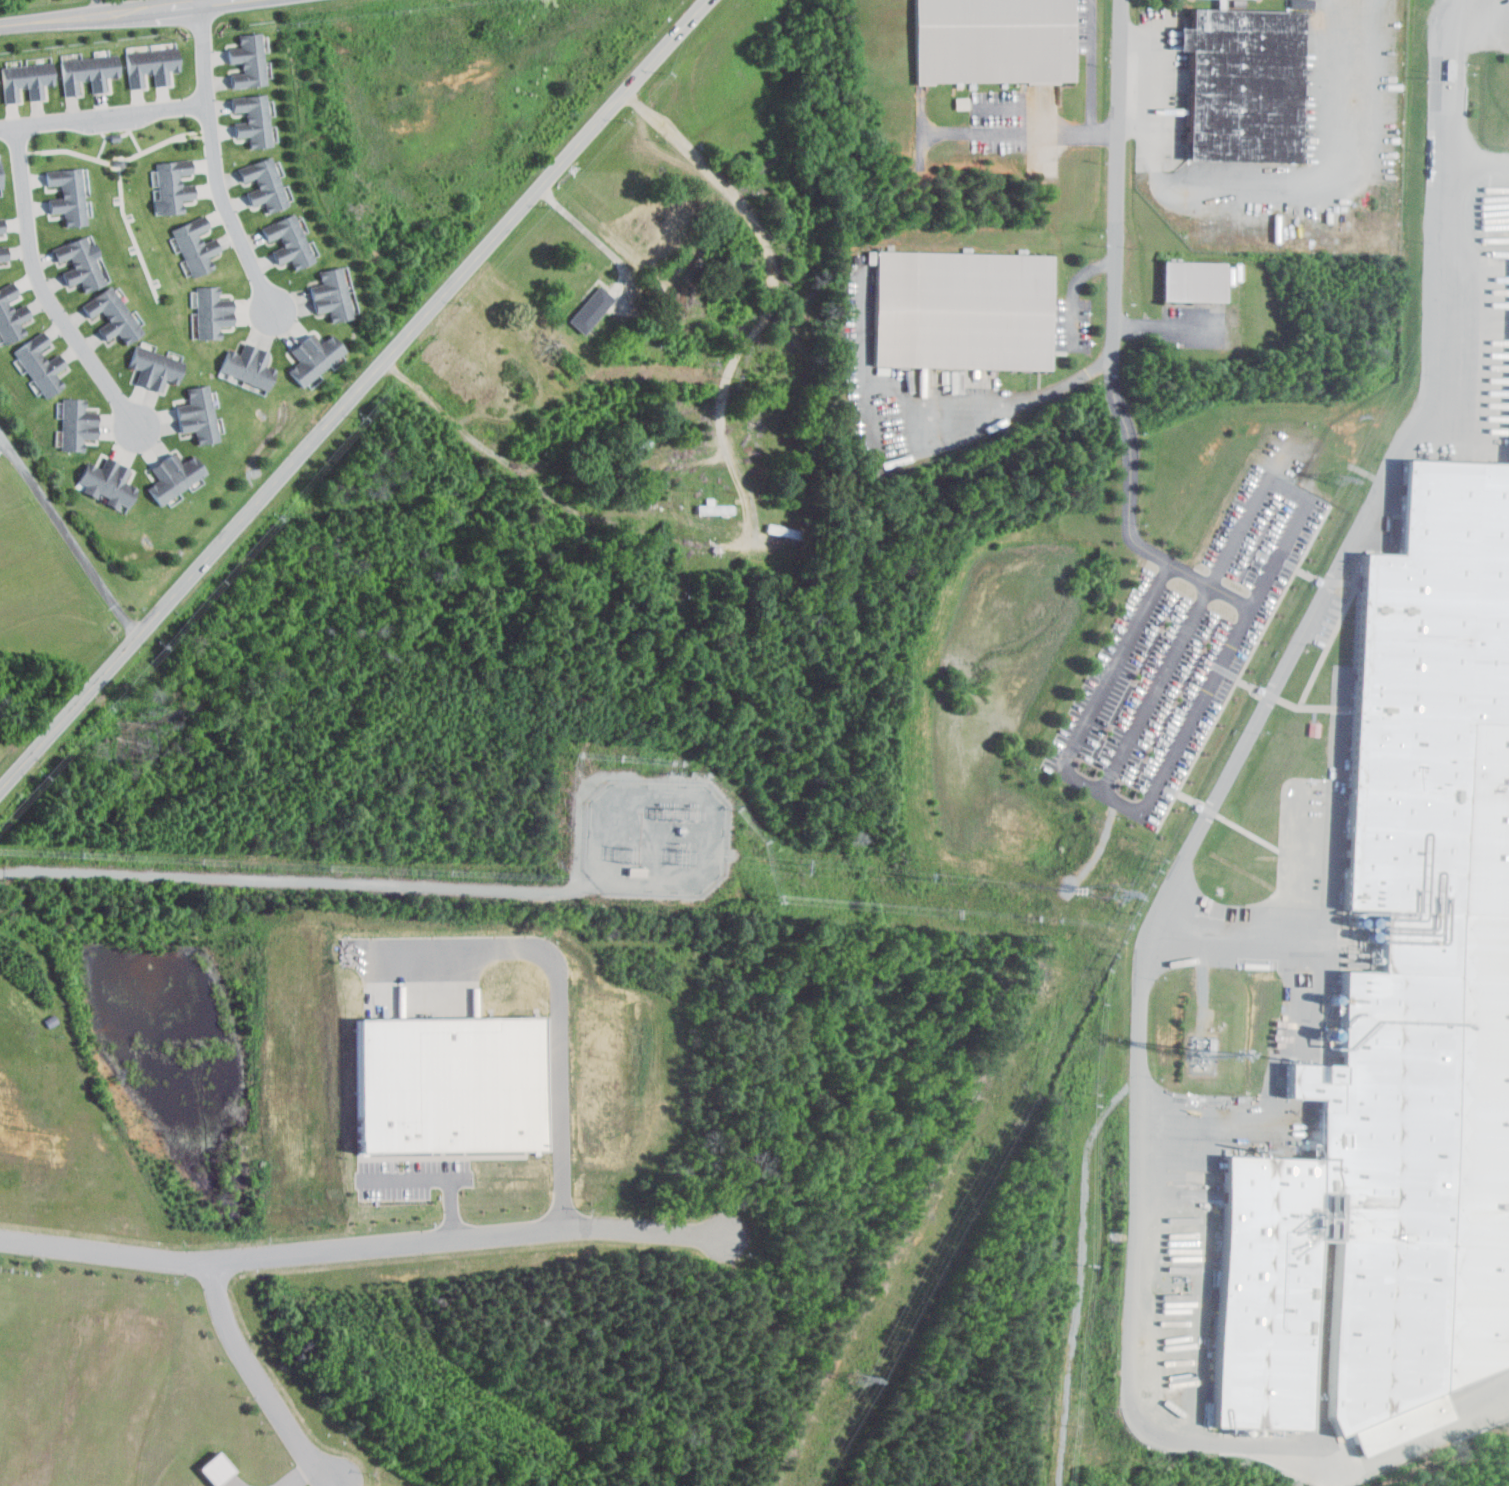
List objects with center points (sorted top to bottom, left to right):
road: (204, 2)
road: (118, 14)
building: (992, 40)
building: (251, 59)
building: (152, 66)
road: (1092, 71)
building: (90, 72)
road: (1454, 78)
building: (27, 79)
road: (1159, 82)
building: (1244, 83)
building: (961, 102)
road: (103, 116)
building: (256, 120)
road: (1022, 131)
road: (132, 133)
road: (106, 136)
road: (1477, 158)
road: (117, 161)
road: (216, 166)
building: (0, 178)
building: (267, 182)
building: (175, 185)
building: (69, 194)
building: (2, 224)
road: (131, 231)
road: (591, 232)
building: (291, 242)
building: (197, 246)
building: (4, 254)
building: (80, 264)
building: (1195, 281)
road: (44, 289)
road: (1075, 290)
building: (334, 294)
building: (962, 310)
building: (590, 311)
building: (216, 312)
building: (12, 315)
building: (112, 315)
road: (1163, 324)
road: (1114, 341)
building: (317, 357)
building: (41, 365)
building: (252, 366)
building: (154, 368)
road: (354, 395)
building: (200, 416)
building: (78, 425)
road: (917, 445)
building: (176, 475)
building: (109, 484)
road: (745, 486)
building: (713, 506)
road: (1242, 512)
road: (68, 534)
road: (1269, 578)
parking lot: (1164, 683)
road: (1157, 688)
road: (1236, 766)
road: (1103, 792)
power substation: (655, 836)
road: (292, 879)
road: (1333, 897)
road: (560, 1004)
building: (1397, 1012)
building: (444, 1083)
road: (440, 1178)
road: (362, 1246)
road: (1080, 1273)
road: (260, 1379)
road: (1317, 1459)
building: (214, 1469)
road: (1320, 1472)
road: (294, 1473)

